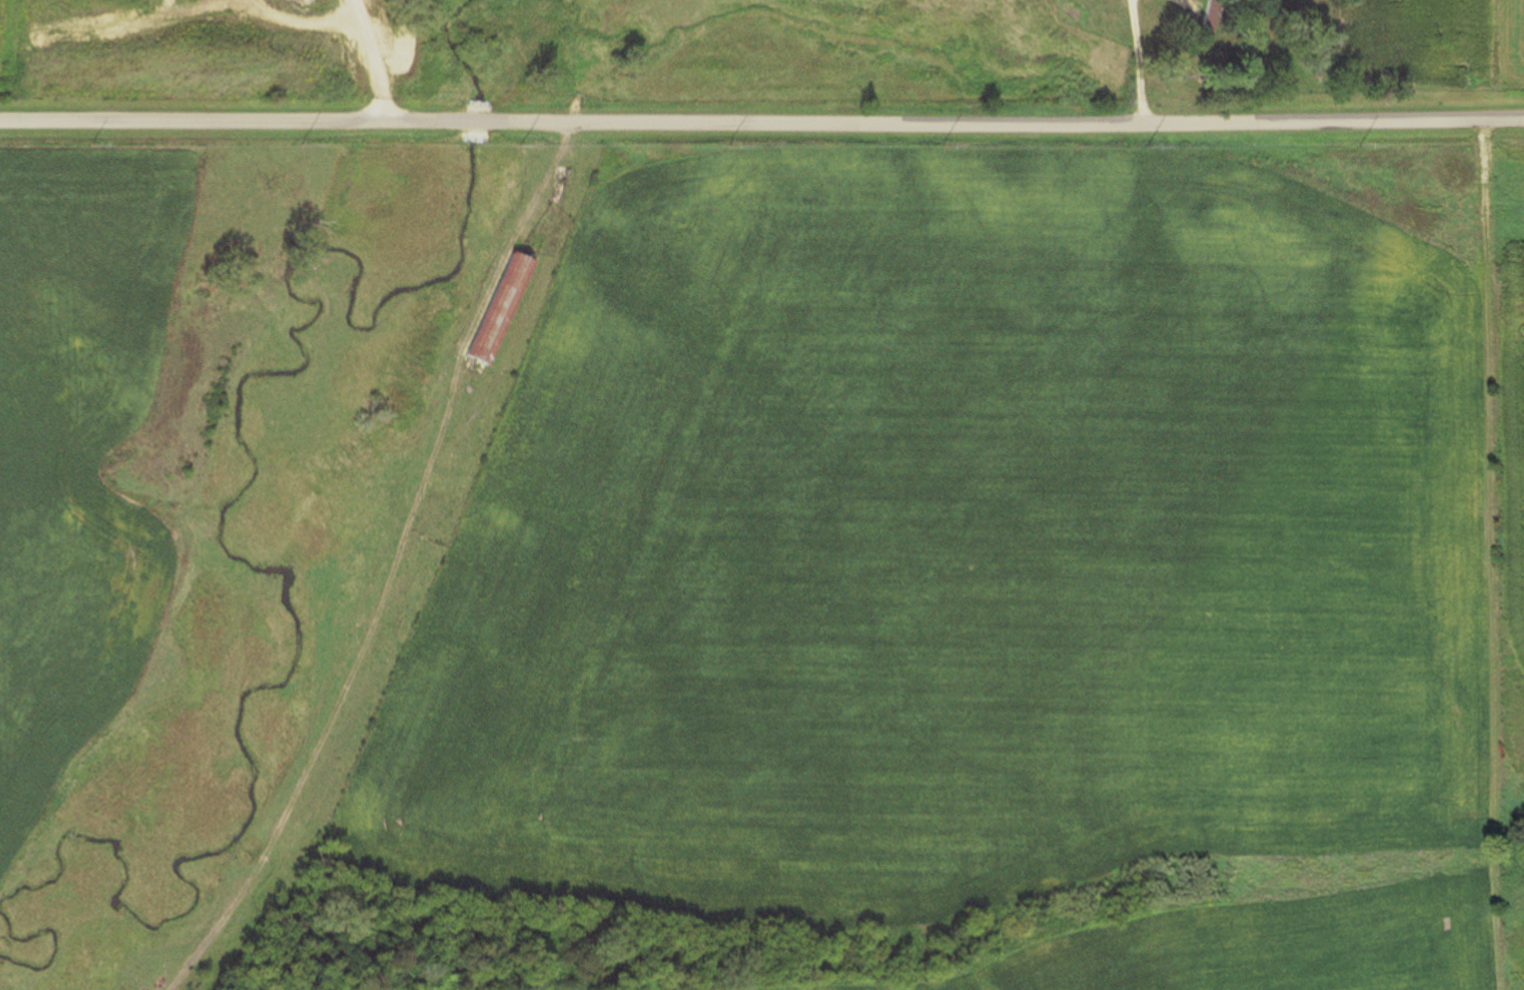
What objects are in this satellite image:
building: (1067, 13)
building: (1204, 22)
road: (362, 62)
road: (476, 123)
road: (230, 125)
road: (1007, 130)
building: (499, 310)
road: (465, 343)

